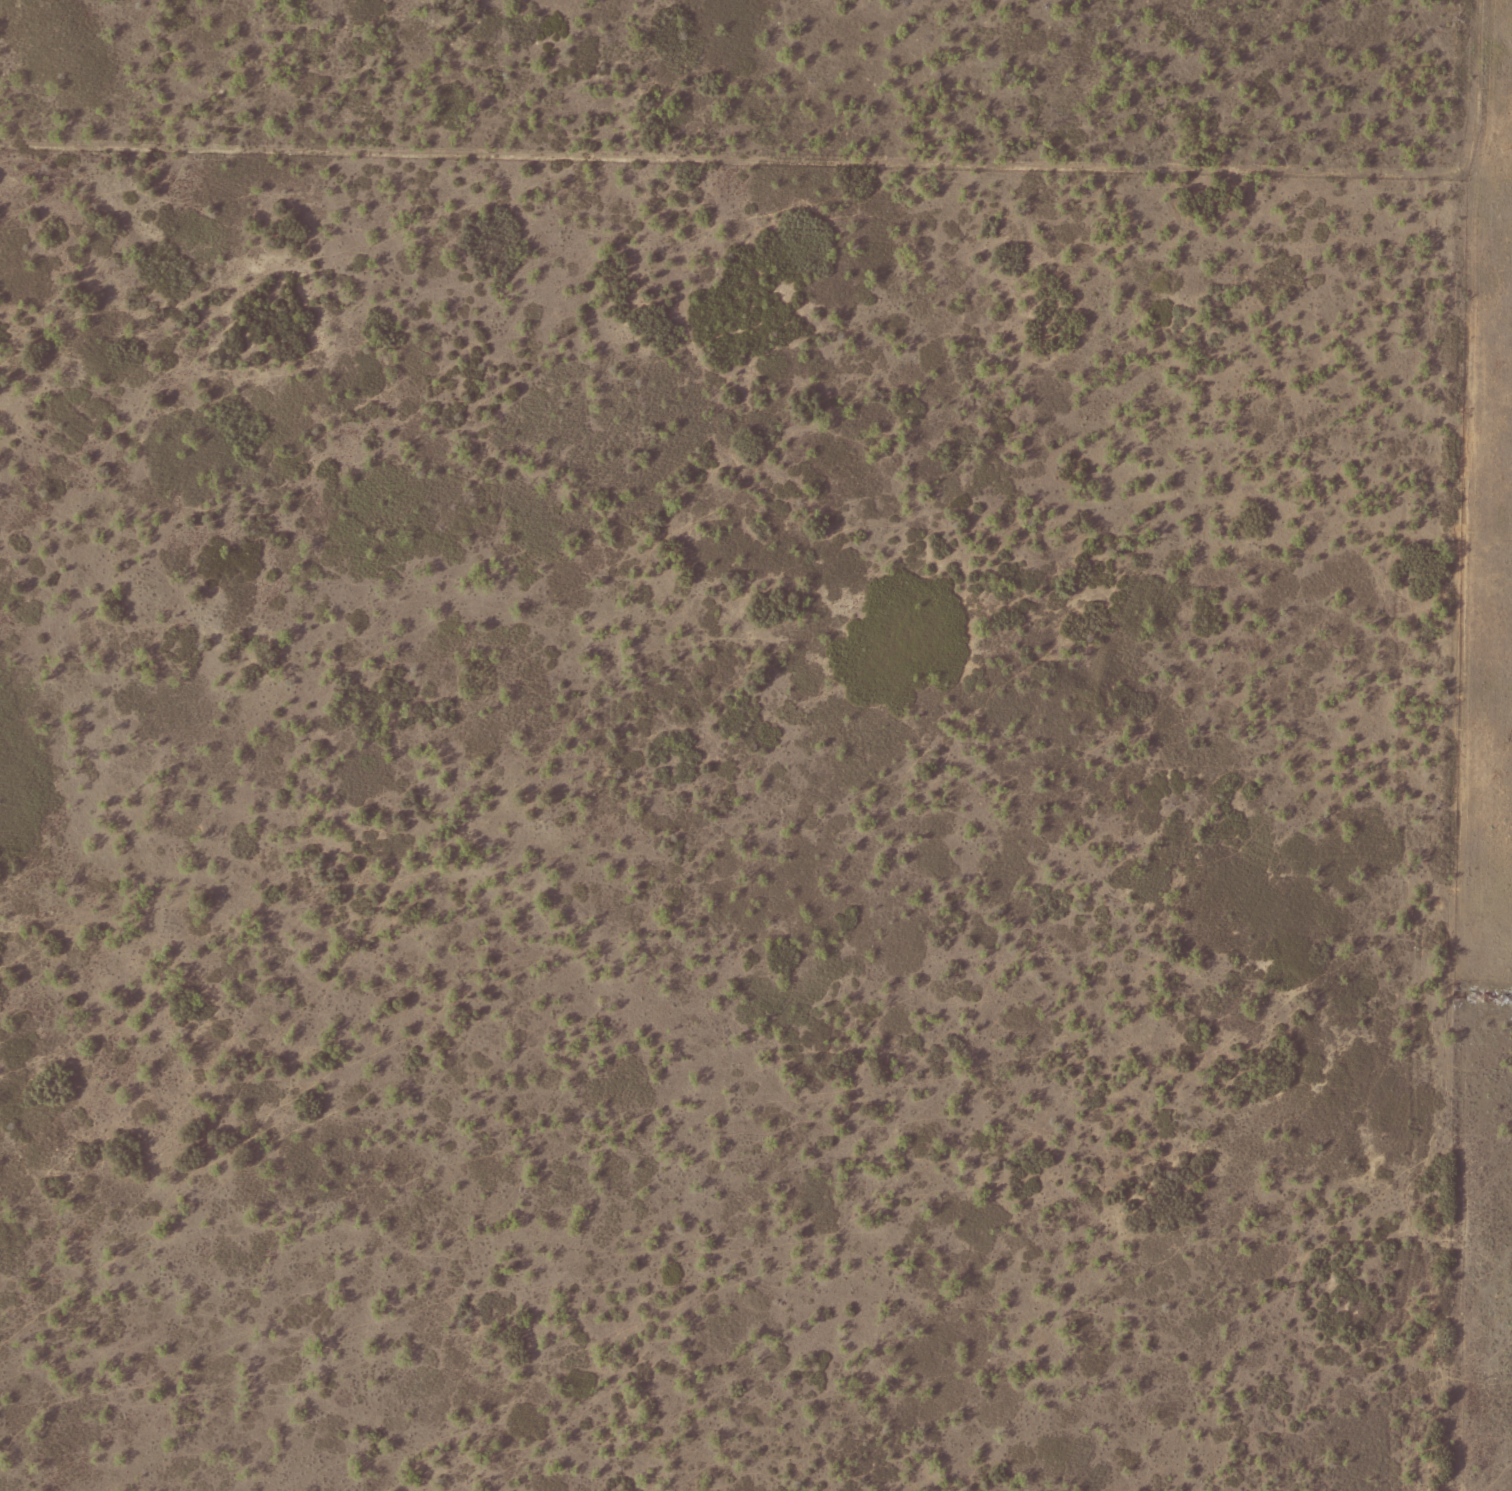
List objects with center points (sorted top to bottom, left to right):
power tower: (1510, 149)

